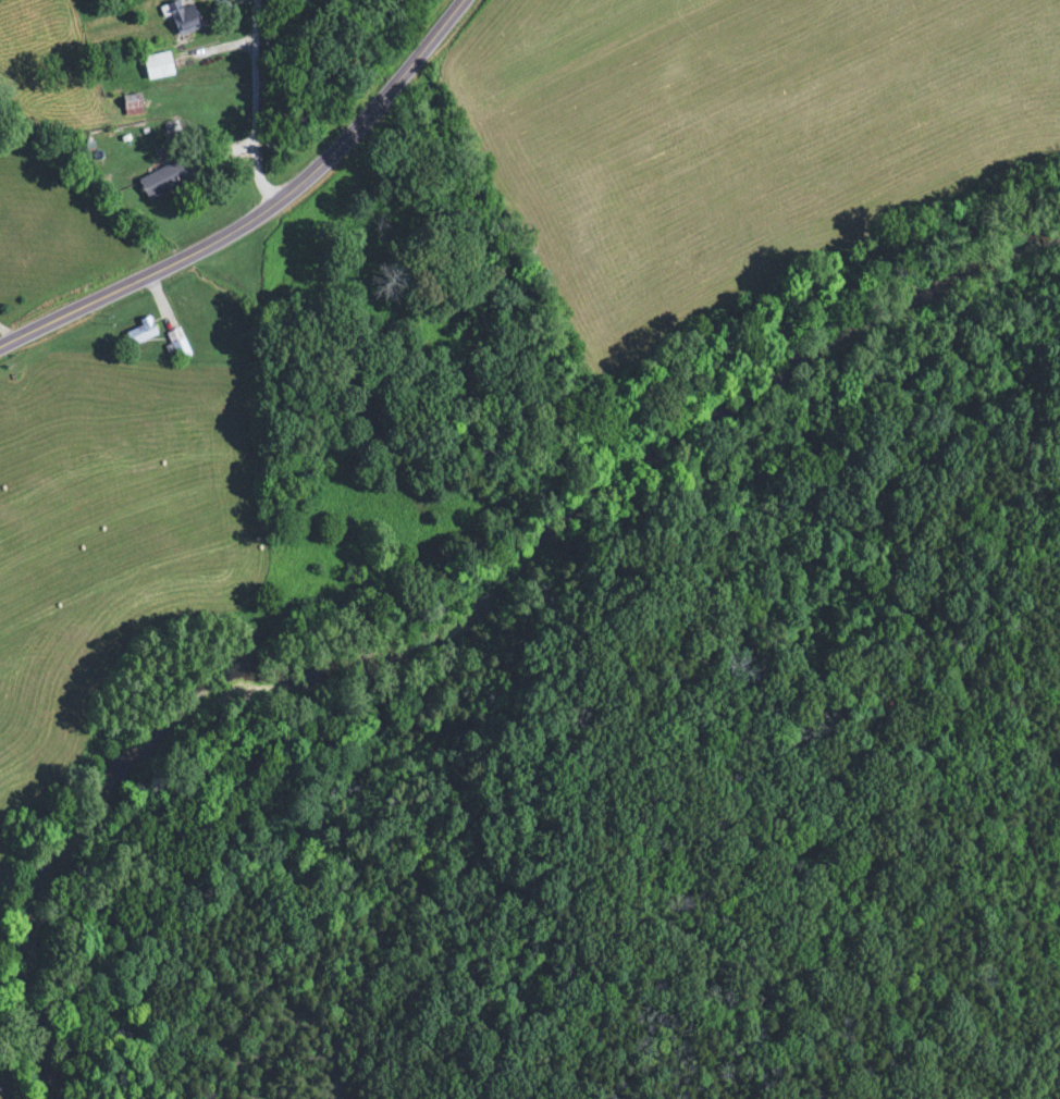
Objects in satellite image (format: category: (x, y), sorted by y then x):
building: (182, 17)
building: (158, 67)
road: (263, 106)
building: (133, 108)
building: (163, 181)
road: (264, 215)
road: (10, 332)
building: (141, 333)
building: (177, 344)

